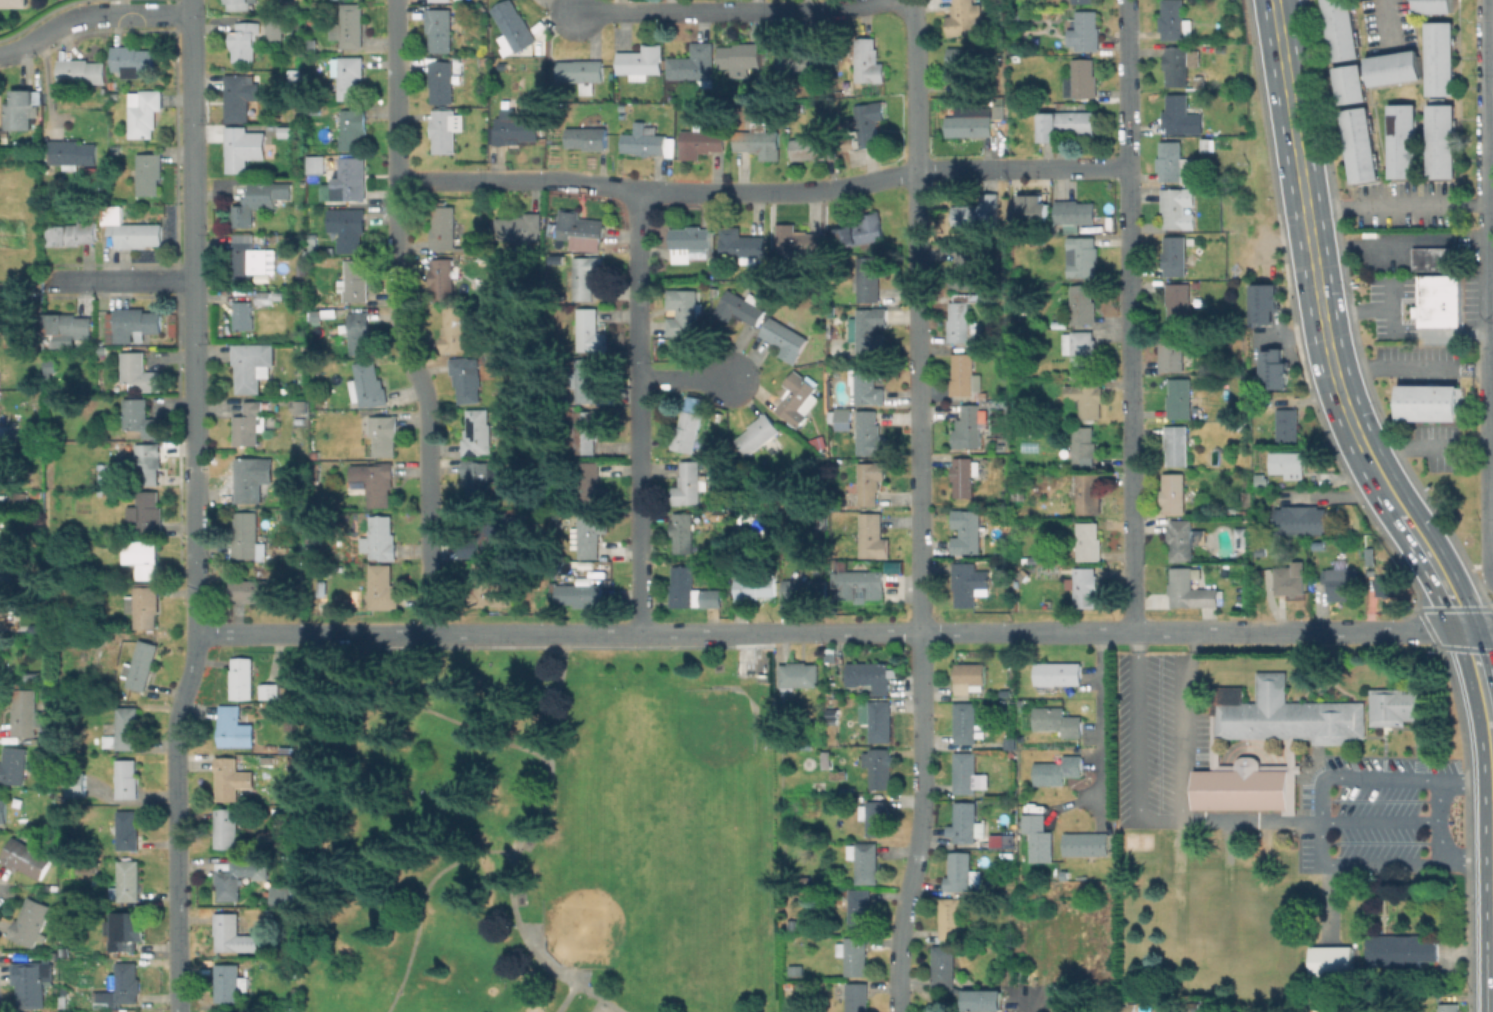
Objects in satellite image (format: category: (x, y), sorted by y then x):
building: (437, 0)
building: (1082, 1)
building: (13, 3)
building: (239, 5)
building: (1432, 5)
building: (299, 6)
road: (732, 11)
road: (89, 14)
building: (963, 16)
building: (1175, 21)
road: (1489, 22)
building: (349, 25)
building: (512, 25)
building: (273, 27)
building: (440, 28)
building: (1340, 29)
building: (1085, 31)
building: (244, 40)
building: (312, 46)
building: (740, 54)
building: (799, 56)
building: (1439, 58)
building: (132, 60)
building: (641, 60)
building: (868, 60)
building: (694, 64)
building: (963, 64)
building: (1177, 64)
building: (1394, 67)
building: (82, 70)
building: (579, 72)
building: (348, 76)
building: (294, 77)
building: (1082, 78)
building: (444, 80)
building: (518, 83)
building: (1349, 83)
building: (62, 93)
road: (1491, 94)
building: (239, 96)
building: (20, 110)
building: (145, 114)
building: (1181, 115)
building: (869, 122)
building: (1065, 124)
building: (971, 125)
building: (352, 127)
building: (514, 127)
building: (290, 129)
building: (443, 129)
building: (1238, 130)
building: (587, 137)
building: (643, 140)
building: (1401, 140)
building: (1439, 140)
building: (701, 141)
building: (758, 141)
building: (1358, 144)
building: (814, 146)
building: (243, 147)
building: (70, 149)
building: (1169, 160)
building: (315, 164)
road: (1089, 167)
road: (1028, 168)
building: (149, 172)
building: (97, 175)
building: (351, 179)
road: (702, 192)
building: (261, 201)
road: (1398, 203)
building: (1034, 208)
building: (1178, 209)
building: (977, 213)
building: (1076, 213)
building: (580, 226)
building: (347, 227)
building: (443, 227)
building: (520, 227)
road: (1309, 228)
building: (130, 230)
building: (861, 231)
building: (73, 233)
building: (795, 237)
building: (689, 242)
road: (1374, 242)
building: (313, 243)
building: (741, 245)
road: (1491, 247)
building: (331, 249)
building: (468, 249)
building: (1175, 254)
building: (1081, 255)
building: (1436, 257)
building: (250, 258)
building: (966, 266)
building: (302, 270)
building: (587, 275)
road: (1492, 275)
building: (868, 276)
building: (443, 280)
road: (118, 281)
building: (355, 281)
road: (193, 293)
building: (264, 297)
building: (1438, 300)
building: (1178, 301)
building: (1266, 303)
building: (1082, 305)
building: (742, 306)
building: (683, 310)
building: (243, 315)
building: (320, 315)
road: (918, 315)
road: (1129, 315)
road: (399, 319)
building: (963, 321)
building: (133, 323)
building: (871, 327)
building: (69, 328)
building: (455, 329)
building: (590, 330)
building: (357, 331)
building: (783, 337)
building: (1080, 348)
building: (1171, 349)
building: (250, 364)
road: (1412, 365)
building: (51, 366)
building: (1276, 368)
building: (139, 371)
building: (8, 372)
building: (964, 375)
building: (589, 376)
building: (467, 377)
road: (684, 377)
building: (867, 380)
building: (367, 384)
building: (1087, 396)
building: (1179, 396)
building: (796, 398)
building: (1430, 401)
building: (299, 409)
road: (637, 410)
building: (142, 418)
building: (843, 418)
building: (249, 423)
building: (1286, 423)
building: (970, 428)
building: (587, 429)
building: (686, 431)
building: (477, 432)
building: (757, 433)
building: (869, 433)
building: (383, 434)
building: (0, 435)
building: (1176, 443)
building: (1083, 445)
road: (1405, 445)
building: (315, 454)
building: (1286, 461)
building: (148, 463)
building: (716, 466)
building: (5, 473)
building: (964, 475)
building: (480, 476)
building: (250, 477)
building: (374, 480)
building: (869, 480)
road: (1379, 480)
building: (688, 483)
building: (592, 484)
building: (1020, 492)
building: (1173, 492)
building: (1089, 493)
building: (22, 497)
building: (1247, 500)
building: (150, 510)
building: (1237, 513)
building: (1300, 519)
building: (684, 530)
building: (966, 531)
building: (591, 532)
building: (739, 533)
building: (872, 535)
building: (247, 537)
building: (490, 537)
building: (1241, 537)
building: (378, 539)
building: (1180, 539)
building: (1088, 540)
building: (1000, 553)
building: (141, 559)
road: (1434, 566)
building: (8, 570)
building: (1290, 579)
building: (969, 582)
building: (1341, 582)
building: (861, 583)
building: (1386, 584)
road: (1487, 585)
building: (382, 586)
building: (487, 586)
building: (758, 586)
building: (1085, 586)
building: (690, 589)
building: (805, 589)
building: (254, 590)
building: (322, 590)
building: (1190, 590)
building: (580, 594)
road: (1487, 599)
building: (146, 606)
road: (1474, 609)
road: (1492, 609)
road: (1492, 610)
road: (197, 611)
road: (1478, 627)
traffic signals: (1464, 628)
road: (1121, 631)
road: (247, 634)
road: (537, 634)
building: (0, 654)
building: (142, 663)
building: (1058, 673)
building: (799, 674)
building: (873, 675)
building: (969, 676)
building: (243, 678)
road: (1482, 684)
building: (270, 689)
building: (1004, 690)
building: (1400, 705)
road: (437, 713)
building: (1285, 713)
building: (27, 714)
road: (1099, 715)
building: (880, 720)
building: (1058, 720)
building: (965, 722)
building: (291, 723)
road: (1185, 724)
building: (832, 726)
building: (127, 727)
building: (234, 728)
building: (286, 747)
road: (1141, 748)
building: (47, 754)
building: (13, 764)
building: (879, 767)
building: (1058, 770)
building: (965, 772)
building: (839, 774)
building: (127, 778)
building: (231, 778)
building: (76, 785)
building: (1249, 786)
building: (3, 809)
building: (876, 815)
road: (177, 821)
road: (921, 822)
building: (968, 822)
road: (1254, 822)
road: (1323, 823)
building: (227, 828)
building: (127, 829)
park: (537, 831)
building: (1039, 837)
building: (1086, 842)
building: (1009, 843)
road: (519, 844)
building: (1006, 854)
building: (27, 860)
building: (865, 860)
building: (962, 871)
building: (234, 876)
building: (129, 879)
building: (274, 899)
road: (424, 902)
building: (860, 909)
building: (951, 918)
building: (32, 923)
building: (793, 924)
building: (227, 930)
building: (126, 931)
building: (1329, 936)
building: (1400, 949)
building: (854, 954)
building: (1329, 960)
building: (943, 966)
building: (796, 969)
building: (230, 982)
building: (32, 983)
building: (123, 984)
building: (794, 988)
building: (1060, 988)
building: (857, 997)
road: (567, 998)
building: (984, 1001)
building: (64, 1002)
road: (1032, 1003)
building: (1192, 1006)
building: (1450, 1007)
building: (1126, 1008)
building: (1110, 1009)
building: (122, 1010)

